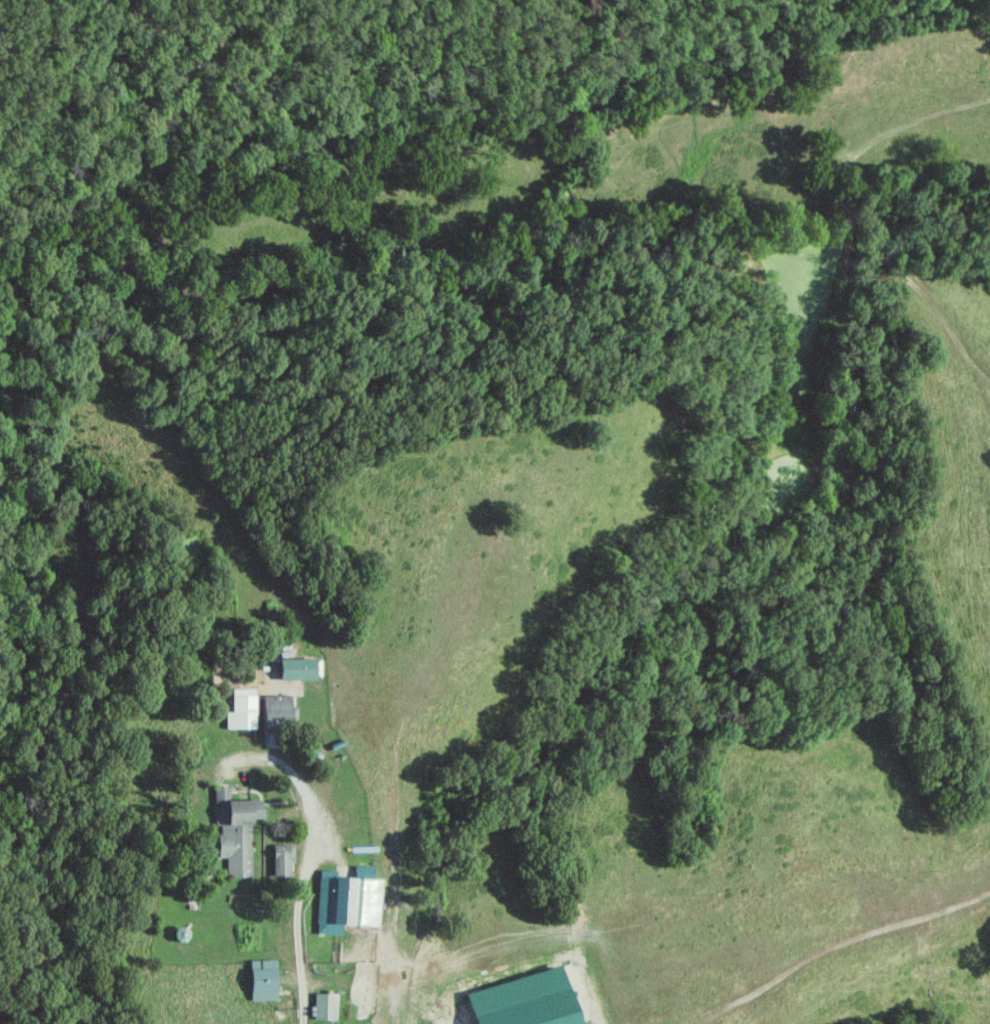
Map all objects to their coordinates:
building: (306, 669)
building: (246, 710)
building: (280, 710)
building: (239, 832)
building: (285, 861)
road: (303, 867)
building: (351, 901)
building: (268, 980)
building: (329, 1006)

